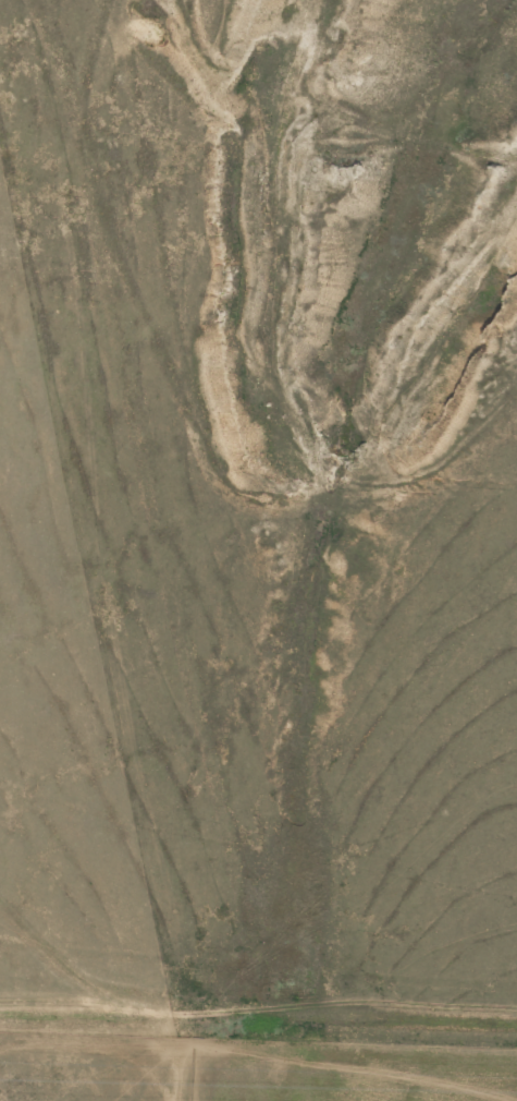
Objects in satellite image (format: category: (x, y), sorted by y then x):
road: (48, 967)
road: (258, 1021)

